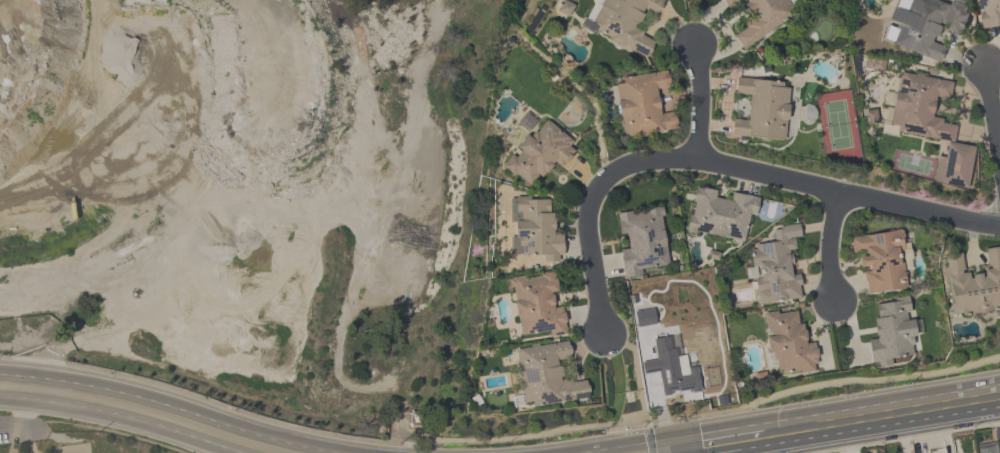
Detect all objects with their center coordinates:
building: (990, 12)
building: (760, 18)
building: (623, 24)
building: (923, 26)
road: (700, 101)
building: (642, 106)
building: (762, 110)
road: (991, 112)
building: (930, 125)
building: (540, 156)
road: (722, 162)
building: (719, 214)
building: (534, 229)
building: (642, 241)
road: (829, 247)
building: (881, 260)
building: (775, 267)
building: (973, 284)
building: (537, 304)
building: (892, 333)
building: (788, 342)
building: (673, 372)
building: (547, 375)
road: (167, 404)
road: (121, 416)
road: (875, 418)
road: (23, 425)
road: (711, 443)
road: (658, 445)
road: (615, 448)
traffic signals: (671, 448)
building: (990, 449)
road: (668, 450)
road: (671, 450)

